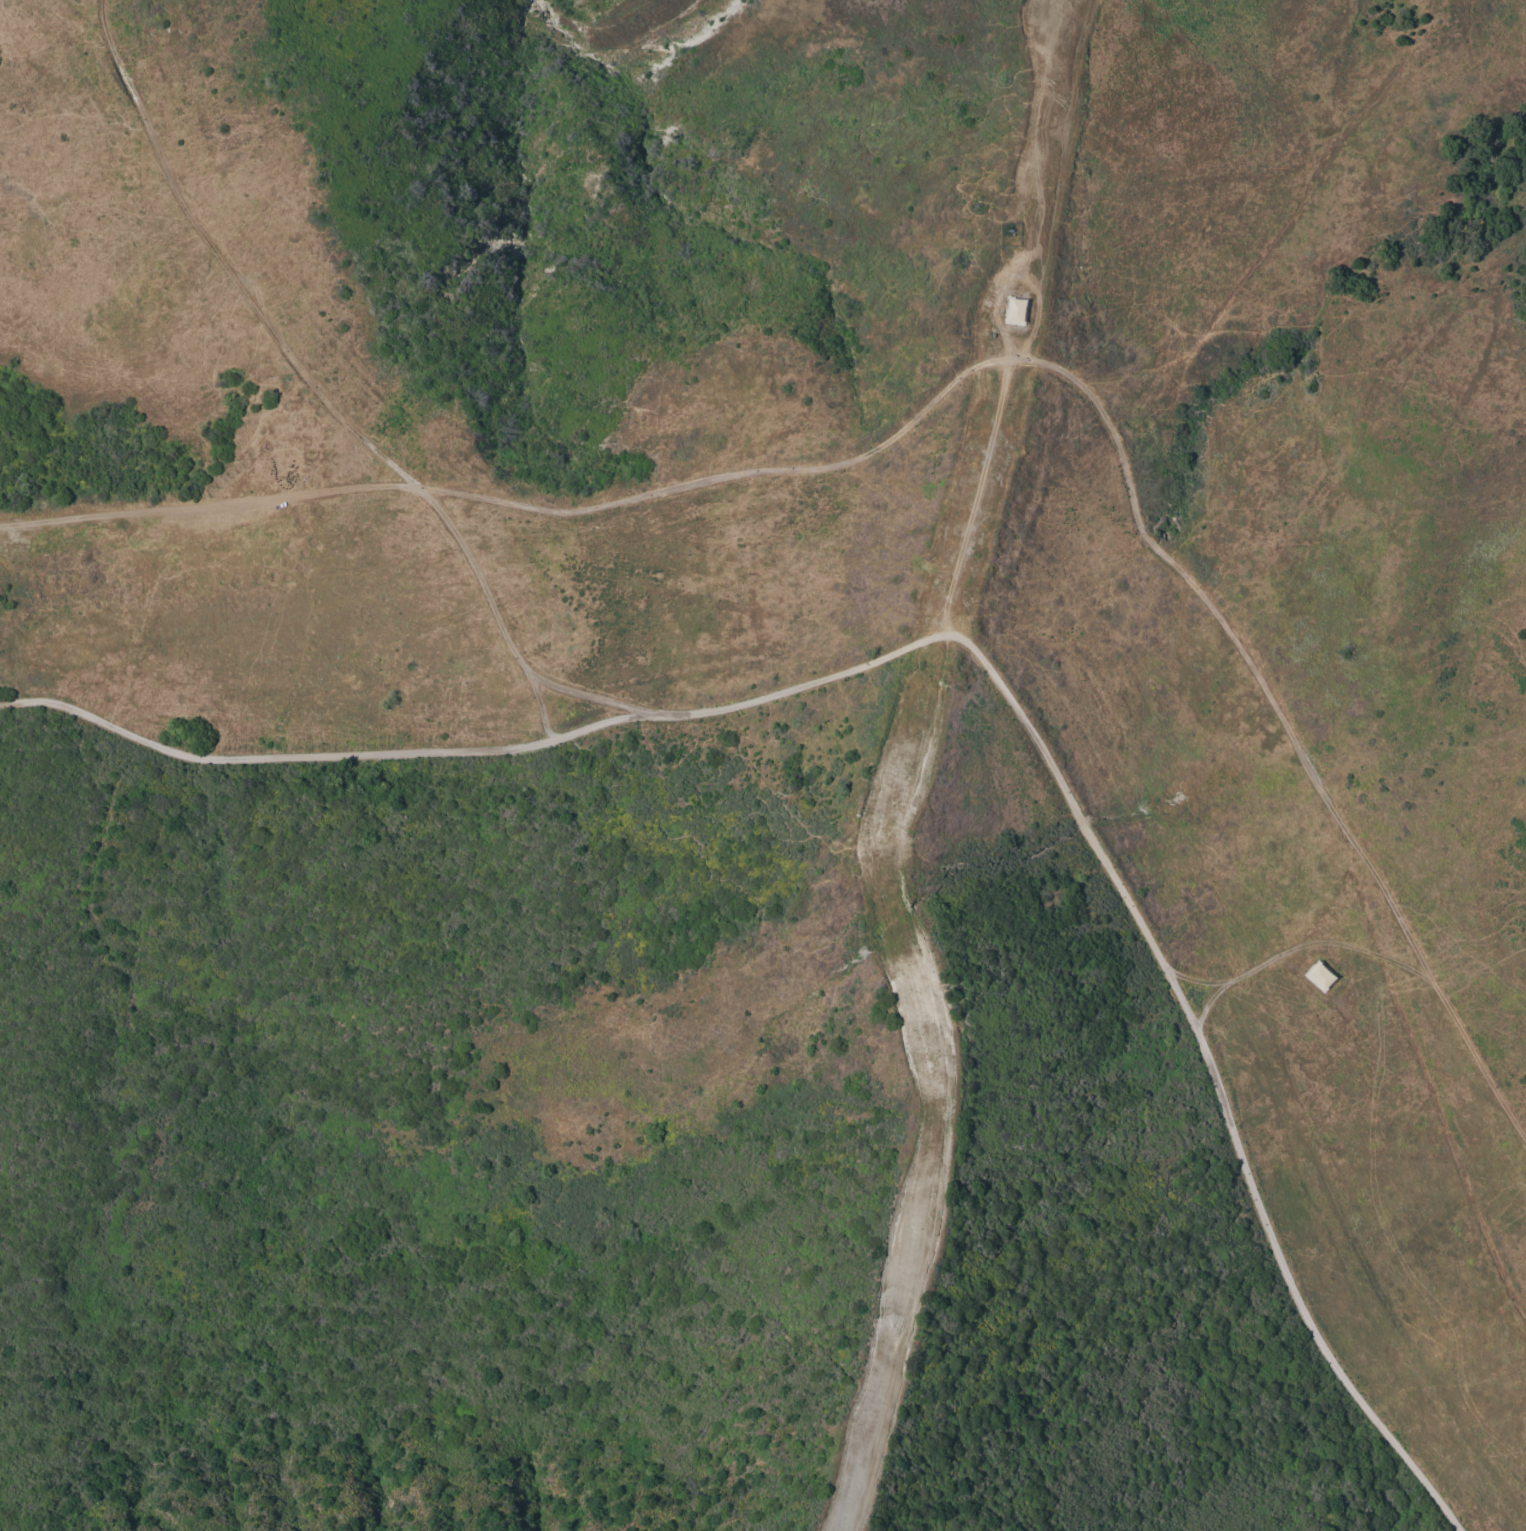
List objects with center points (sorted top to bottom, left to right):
building: (1012, 311)
road: (975, 649)
road: (1235, 982)

